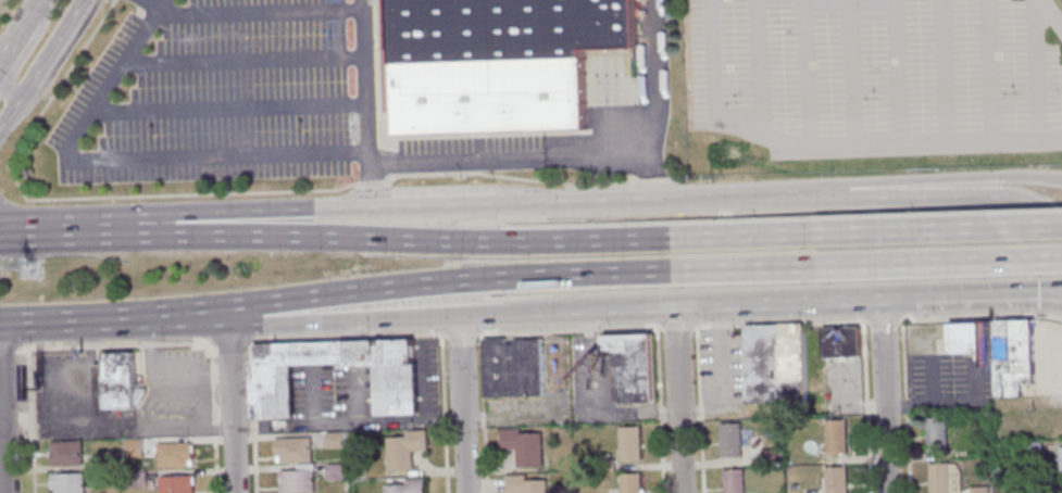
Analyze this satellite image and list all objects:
road: (76, 3)
road: (249, 14)
road: (1048, 16)
road: (18, 29)
road: (60, 30)
building: (522, 41)
road: (23, 52)
road: (241, 64)
road: (36, 68)
road: (754, 68)
road: (1033, 68)
road: (988, 69)
road: (941, 71)
road: (895, 72)
road: (849, 73)
road: (803, 74)
parking lot: (878, 75)
parking lot: (225, 91)
road: (16, 99)
road: (364, 103)
road: (227, 112)
road: (826, 147)
road: (128, 160)
road: (794, 189)
road: (939, 195)
road: (457, 203)
road: (245, 210)
road: (18, 222)
road: (72, 228)
road: (936, 228)
road: (27, 229)
road: (8, 230)
road: (457, 240)
road: (937, 263)
power tower: (28, 268)
road: (516, 276)
road: (1048, 288)
road: (971, 294)
road: (1048, 296)
road: (737, 302)
road: (113, 318)
road: (397, 318)
road: (653, 326)
building: (970, 338)
road: (227, 341)
road: (104, 344)
building: (840, 346)
building: (1011, 356)
road: (459, 367)
building: (630, 367)
building: (773, 367)
building: (509, 368)
parking lot: (948, 376)
road: (928, 380)
building: (114, 381)
road: (975, 381)
road: (229, 387)
building: (395, 390)
road: (883, 395)
building: (170, 396)
road: (676, 397)
road: (929, 402)
road: (864, 406)
road: (903, 406)
road: (698, 408)
road: (658, 409)
road: (442, 413)
road: (479, 413)
road: (213, 417)
road: (249, 417)
road: (29, 420)
road: (347, 424)
building: (933, 434)
building: (334, 440)
building: (835, 440)
building: (627, 443)
building: (733, 443)
building: (521, 446)
building: (132, 447)
building: (1030, 448)
building: (291, 450)
building: (403, 450)
building: (64, 454)
building: (173, 455)
road: (463, 456)
building: (108, 458)
building: (767, 458)
building: (1059, 462)
road: (1, 463)
building: (604, 463)
building: (302, 467)
building: (334, 471)
road: (233, 476)
building: (941, 478)
building: (135, 479)
building: (295, 481)
building: (836, 481)
building: (733, 482)
building: (65, 483)
building: (628, 483)
building: (174, 484)
building: (522, 484)
building: (404, 486)
building: (976, 490)
building: (1058, 490)

